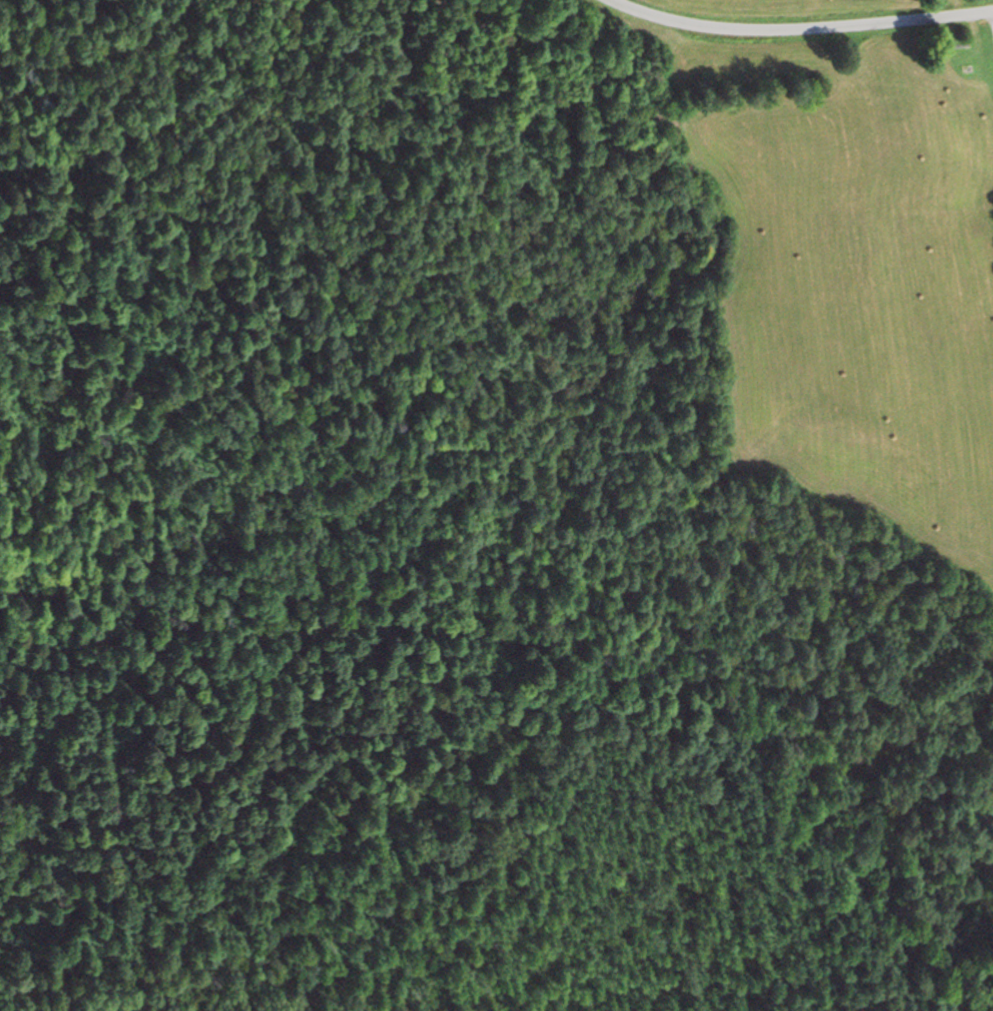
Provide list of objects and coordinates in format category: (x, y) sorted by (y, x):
road: (798, 32)

